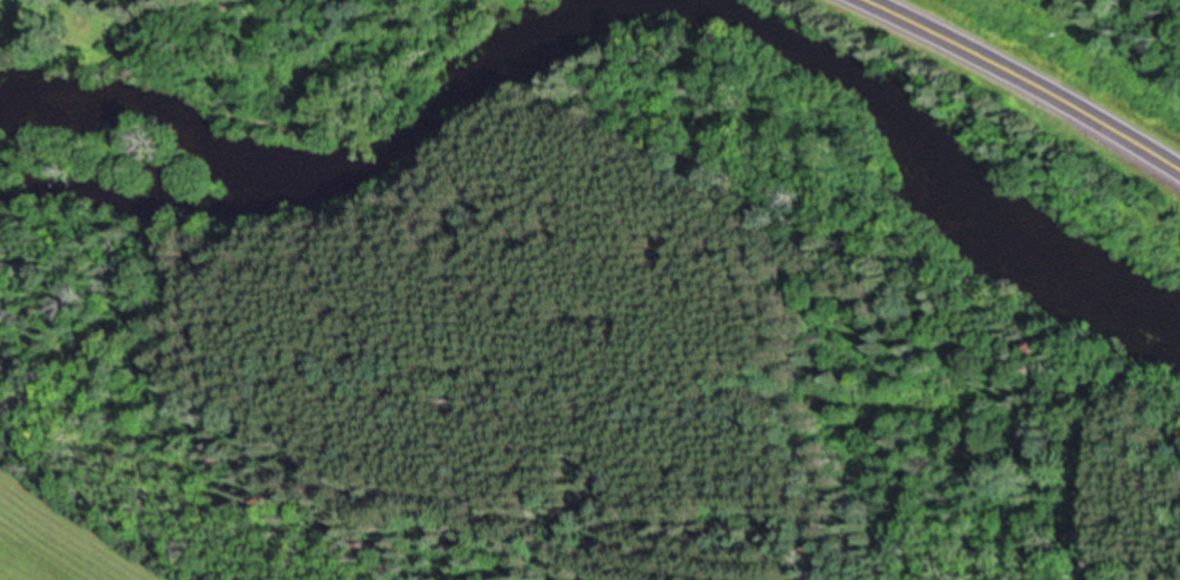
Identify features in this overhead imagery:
river: (601, 11)
road: (1033, 78)

